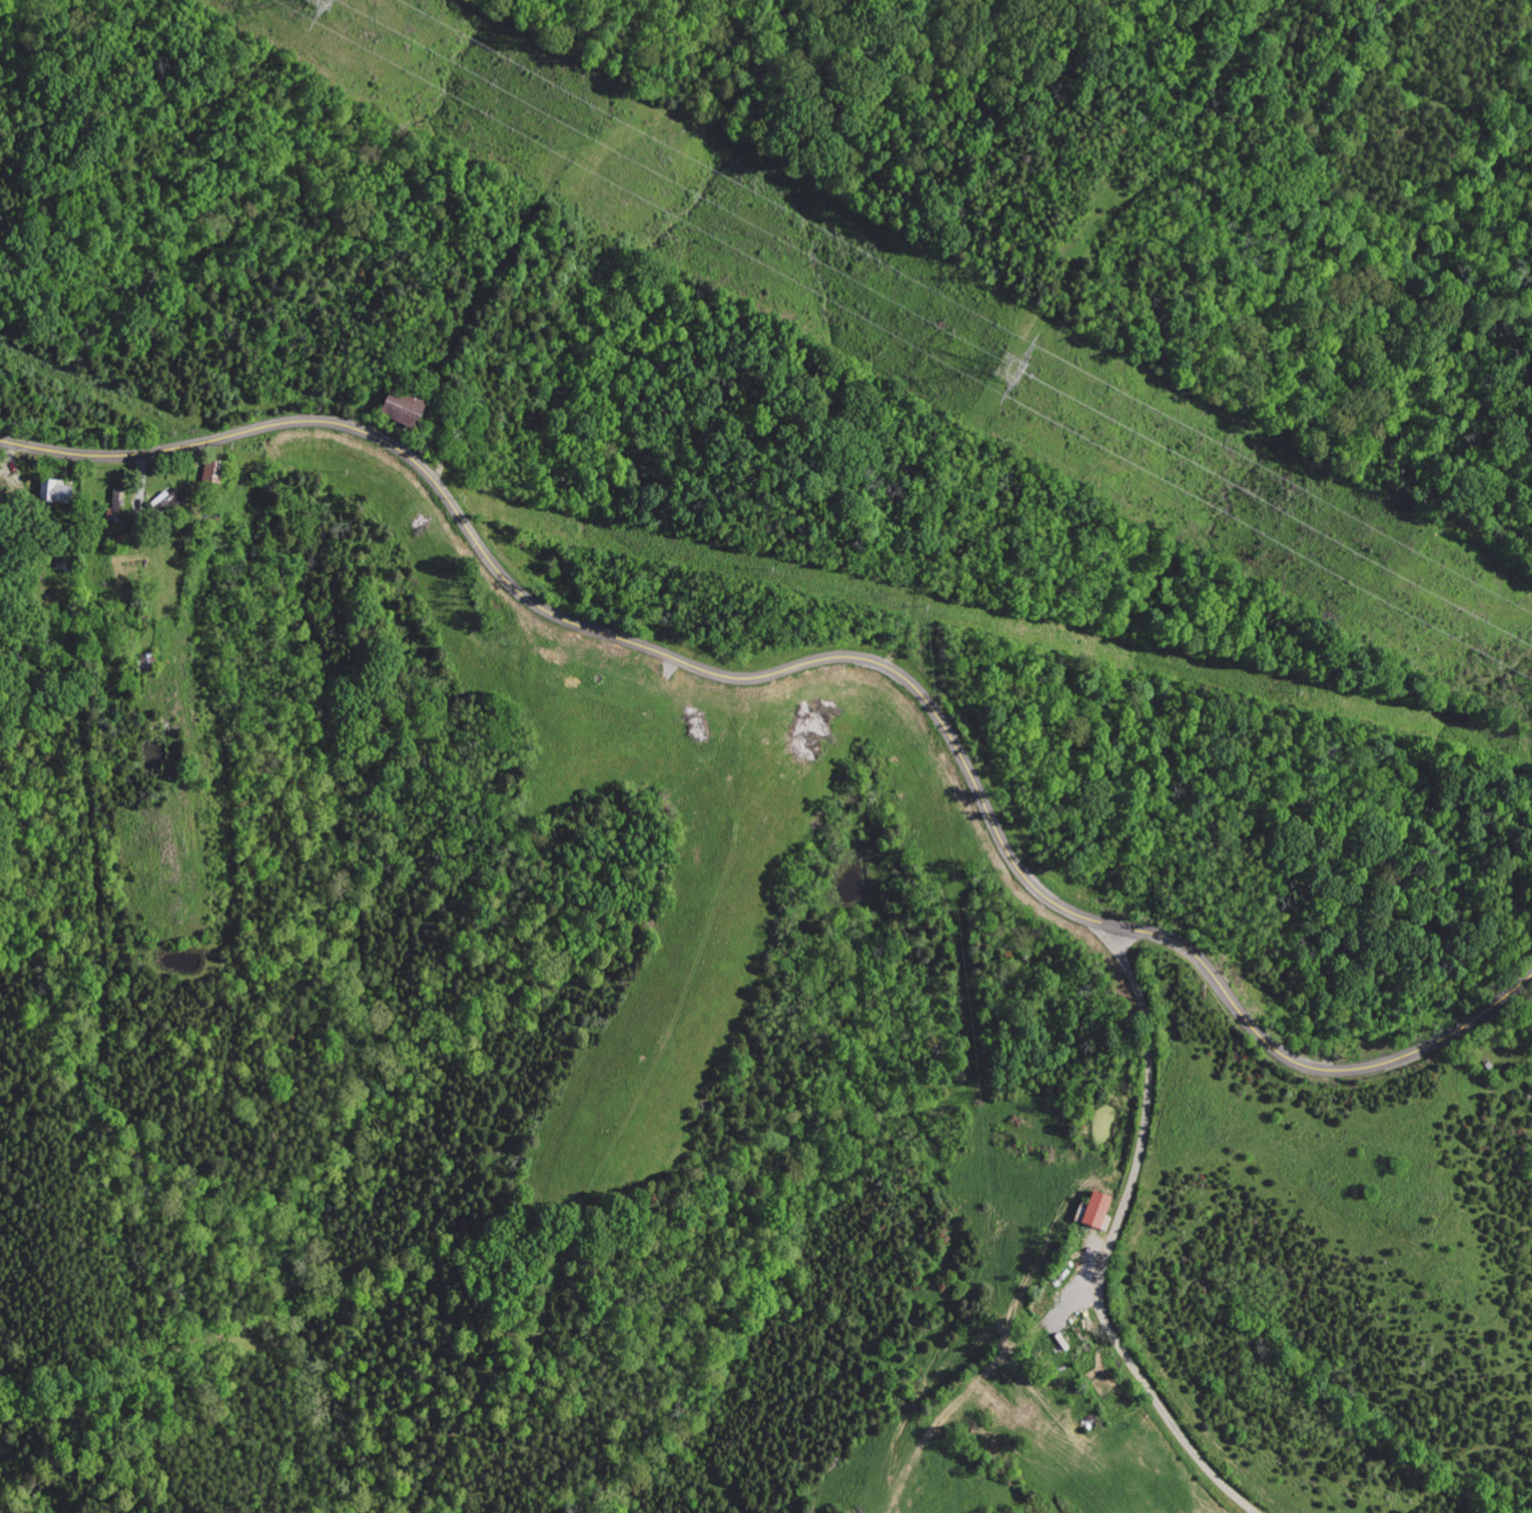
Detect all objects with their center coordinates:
power tower: (1024, 387)
building: (394, 409)
building: (52, 492)
building: (164, 500)
road: (822, 660)
building: (1089, 1210)
road: (1118, 1229)

